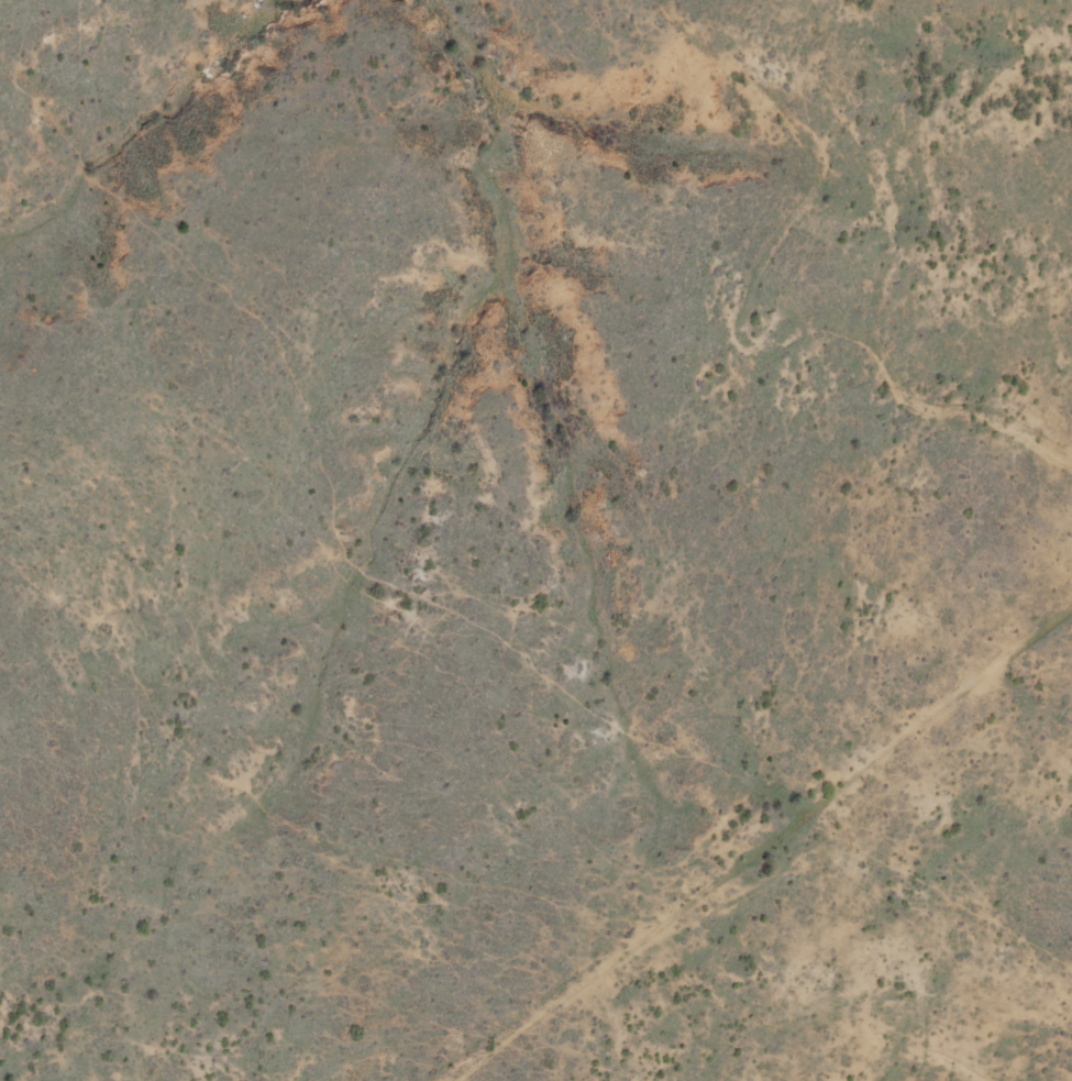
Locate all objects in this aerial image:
road: (783, 859)

